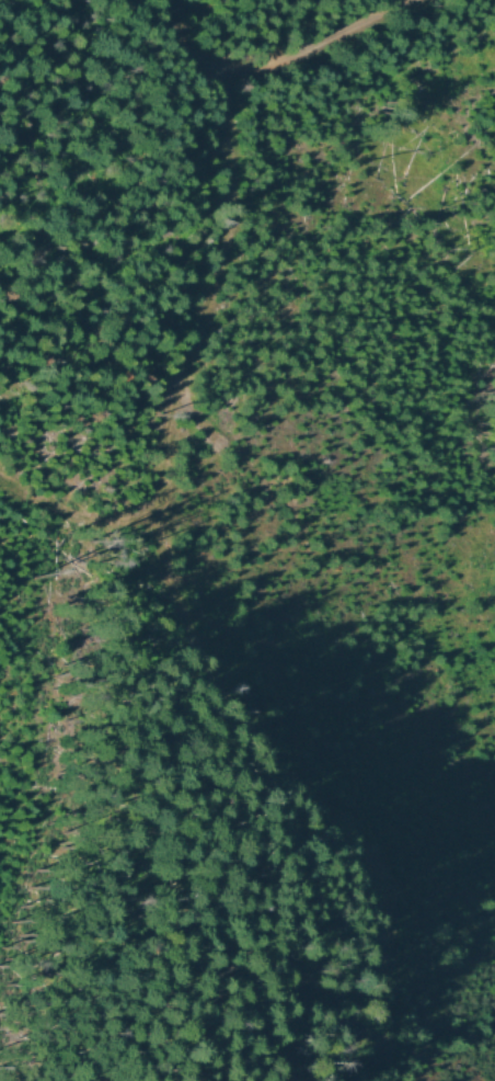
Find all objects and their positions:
road: (267, 61)
road: (186, 368)
road: (289, 754)

